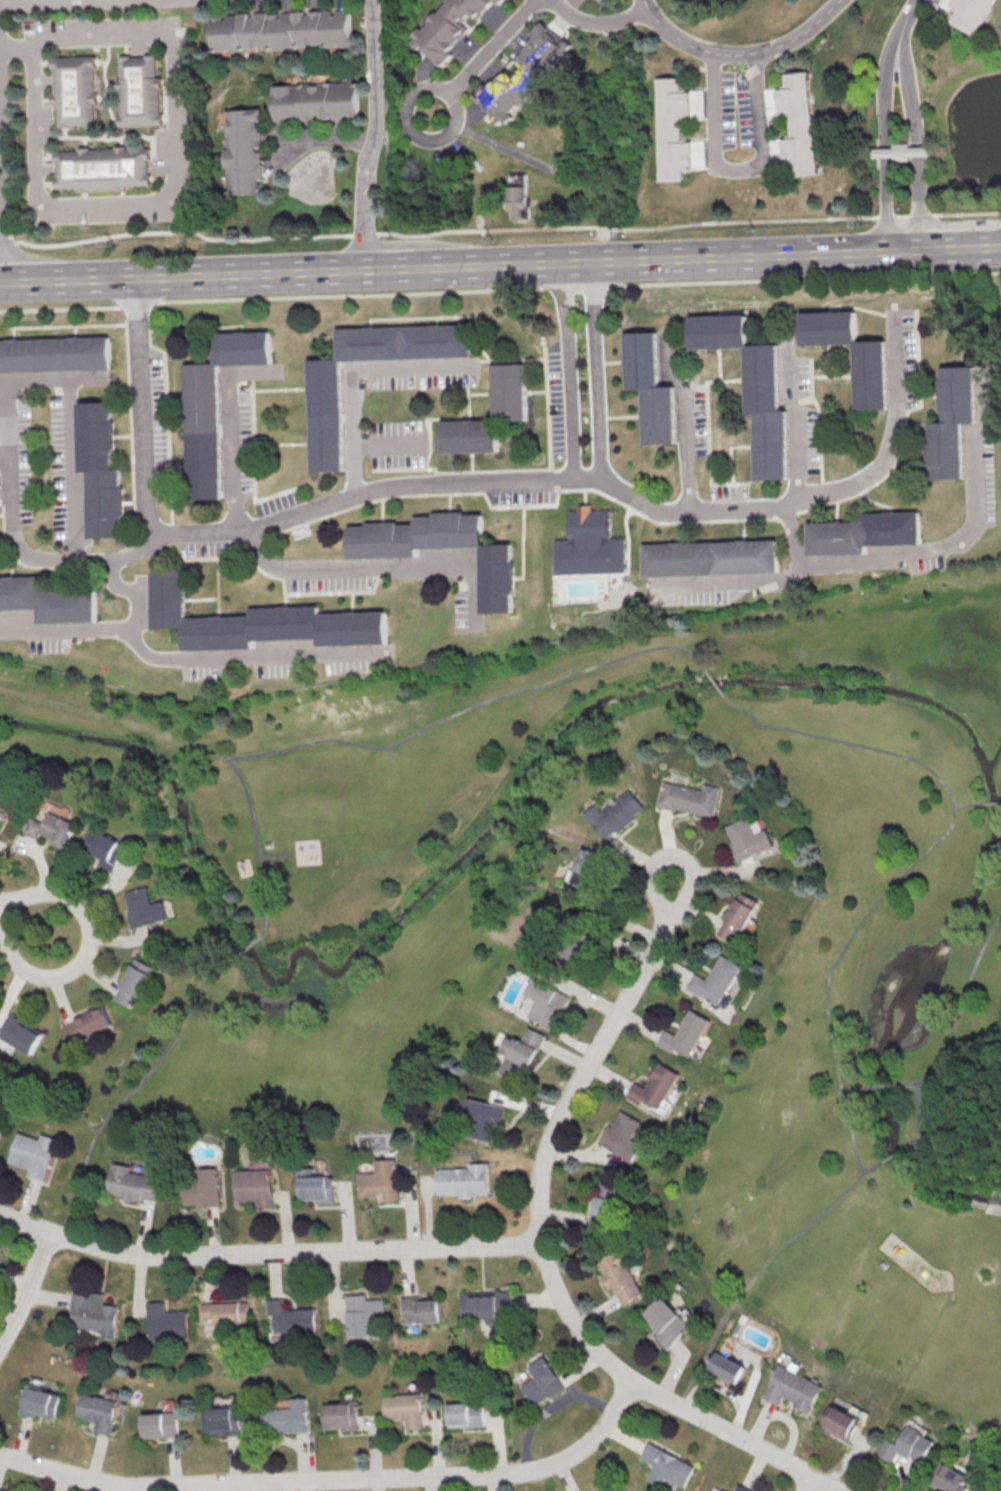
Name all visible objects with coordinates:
road: (190, 1)
road: (121, 3)
road: (906, 11)
building: (970, 13)
road: (597, 24)
building: (447, 28)
building: (280, 30)
road: (13, 43)
road: (490, 47)
road: (737, 53)
building: (524, 74)
road: (884, 86)
road: (908, 88)
building: (77, 94)
building: (142, 96)
building: (314, 100)
building: (799, 122)
road: (409, 126)
building: (673, 130)
road: (378, 134)
road: (326, 140)
building: (776, 149)
building: (243, 150)
building: (901, 151)
building: (699, 153)
road: (736, 170)
building: (106, 173)
road: (2, 196)
road: (921, 200)
building: (518, 201)
road: (886, 201)
road: (174, 206)
road: (498, 229)
road: (962, 247)
road: (674, 260)
road: (396, 268)
road: (183, 276)
road: (500, 289)
building: (53, 355)
road: (897, 364)
road: (566, 371)
road: (594, 371)
road: (348, 372)
road: (36, 377)
building: (870, 378)
building: (647, 389)
building: (749, 390)
building: (506, 391)
building: (211, 407)
building: (321, 417)
building: (951, 423)
road: (792, 432)
road: (385, 446)
road: (229, 452)
road: (684, 452)
building: (98, 469)
road: (975, 480)
road: (424, 484)
building: (0, 501)
building: (864, 533)
building: (589, 544)
road: (257, 555)
road: (121, 557)
building: (710, 557)
road: (50, 559)
road: (862, 560)
road: (405, 567)
road: (792, 574)
building: (497, 579)
road: (720, 585)
building: (46, 602)
road: (132, 624)
building: (256, 624)
road: (66, 628)
road: (279, 657)
road: (713, 683)
road: (445, 719)
road: (166, 771)
road: (78, 779)
building: (690, 798)
road: (991, 804)
road: (967, 806)
building: (616, 814)
building: (52, 829)
building: (748, 839)
road: (259, 844)
building: (269, 844)
building: (106, 849)
road: (279, 856)
road: (667, 856)
road: (912, 864)
building: (587, 868)
road: (61, 896)
building: (146, 907)
building: (736, 917)
road: (246, 951)
road: (39, 976)
building: (135, 981)
building: (712, 981)
park: (334, 1002)
building: (548, 1002)
road: (961, 1011)
building: (89, 1023)
building: (20, 1034)
building: (682, 1036)
building: (522, 1054)
road: (879, 1087)
building: (651, 1090)
road: (849, 1091)
road: (132, 1094)
building: (483, 1118)
building: (0, 1130)
building: (621, 1136)
road: (918, 1140)
road: (938, 1145)
road: (897, 1153)
building: (34, 1155)
building: (463, 1183)
building: (134, 1184)
building: (256, 1186)
building: (381, 1187)
building: (319, 1188)
building: (203, 1195)
building: (605, 1208)
road: (266, 1253)
road: (544, 1263)
building: (884, 1264)
road: (763, 1270)
building: (621, 1276)
road: (26, 1285)
building: (476, 1306)
building: (418, 1309)
building: (363, 1311)
building: (226, 1312)
building: (92, 1313)
building: (287, 1318)
building: (668, 1321)
building: (166, 1326)
building: (728, 1367)
building: (539, 1382)
building: (794, 1389)
building: (38, 1402)
building: (400, 1408)
building: (97, 1412)
building: (338, 1415)
building: (462, 1415)
building: (286, 1420)
building: (222, 1421)
building: (841, 1423)
building: (158, 1425)
building: (908, 1446)
building: (662, 1466)
building: (952, 1478)
road: (330, 1480)
road: (806, 1483)
building: (743, 1489)
building: (613, 1490)

